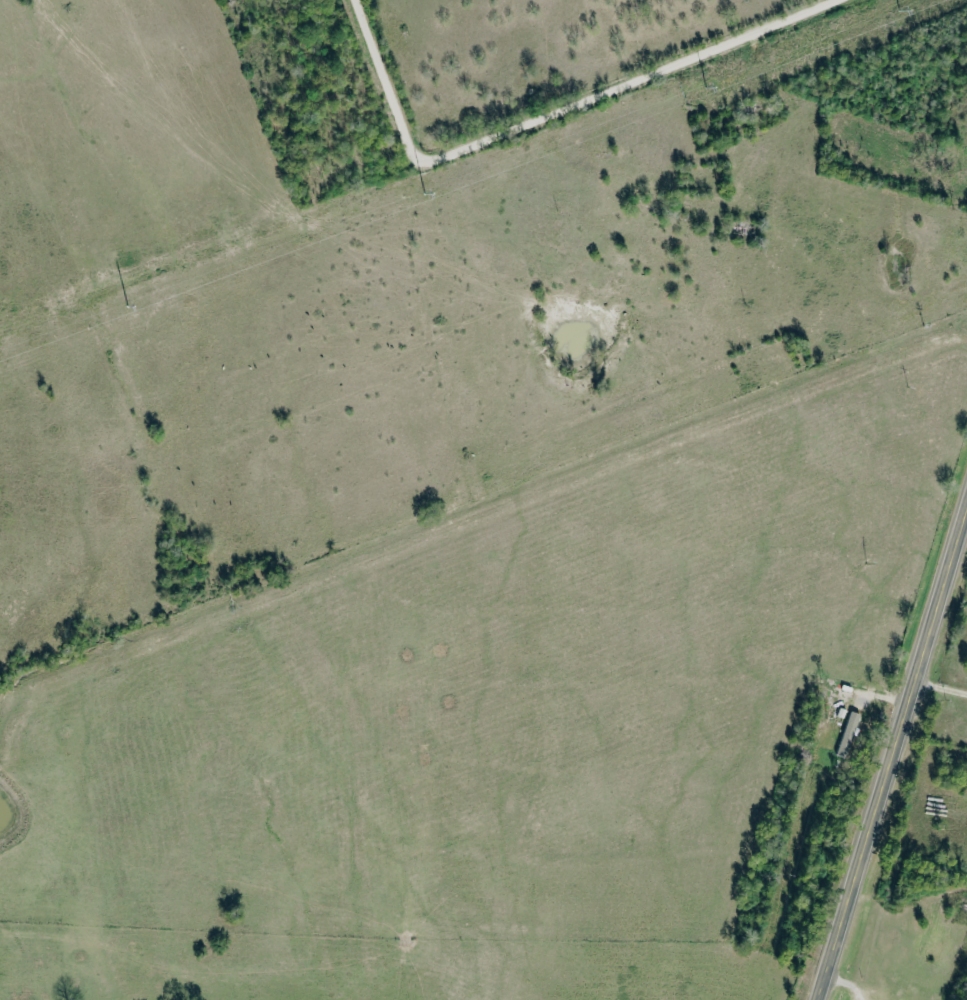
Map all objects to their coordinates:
road: (892, 756)

